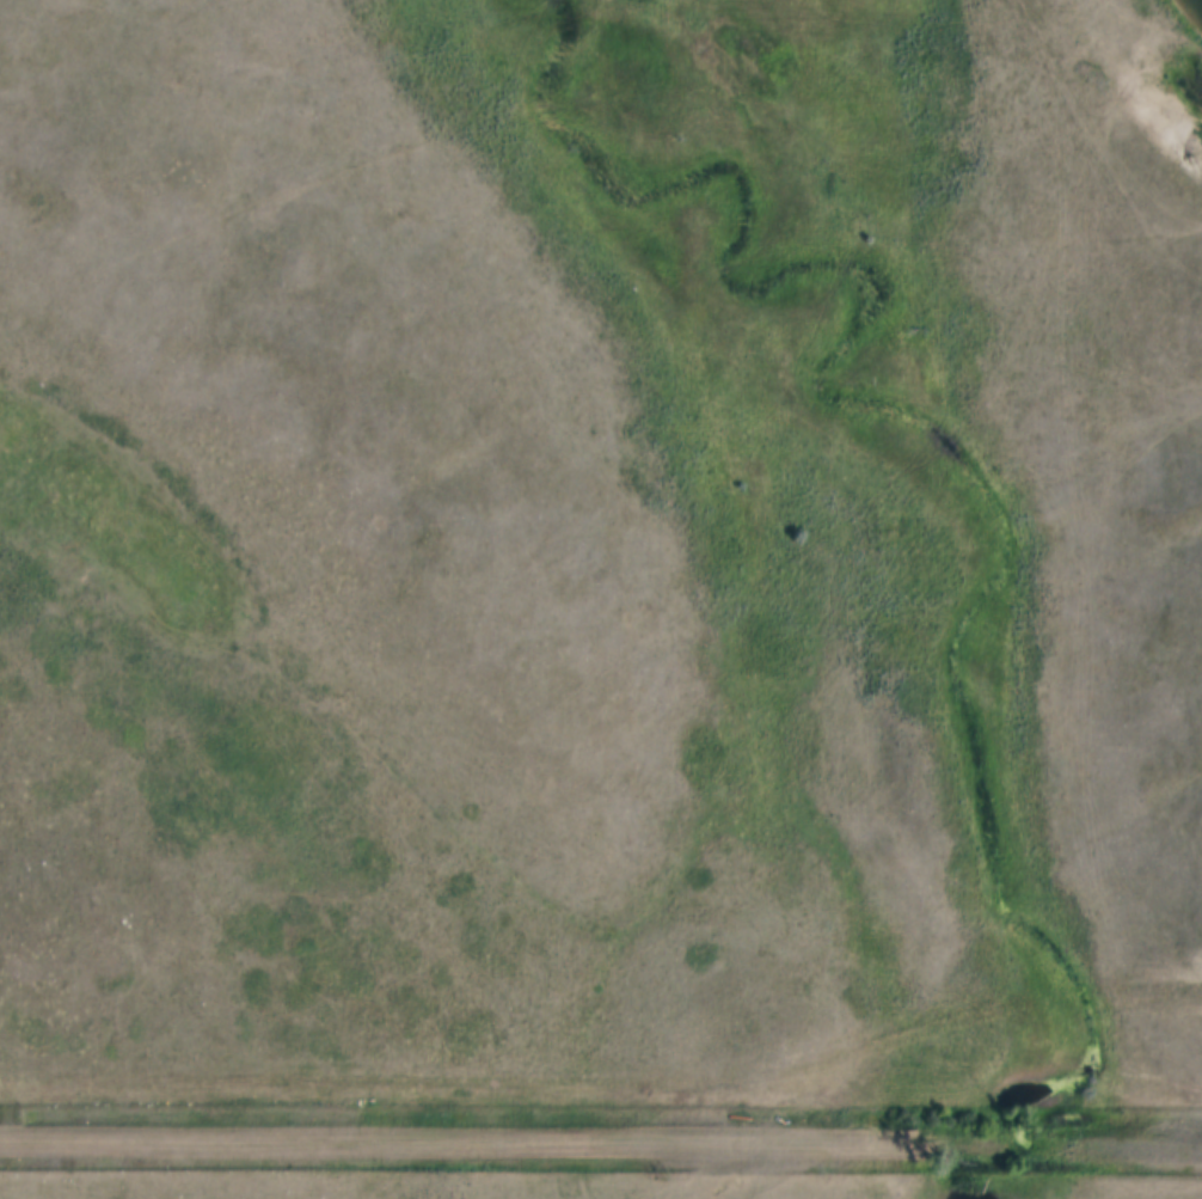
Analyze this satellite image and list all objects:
road: (600, 1134)

